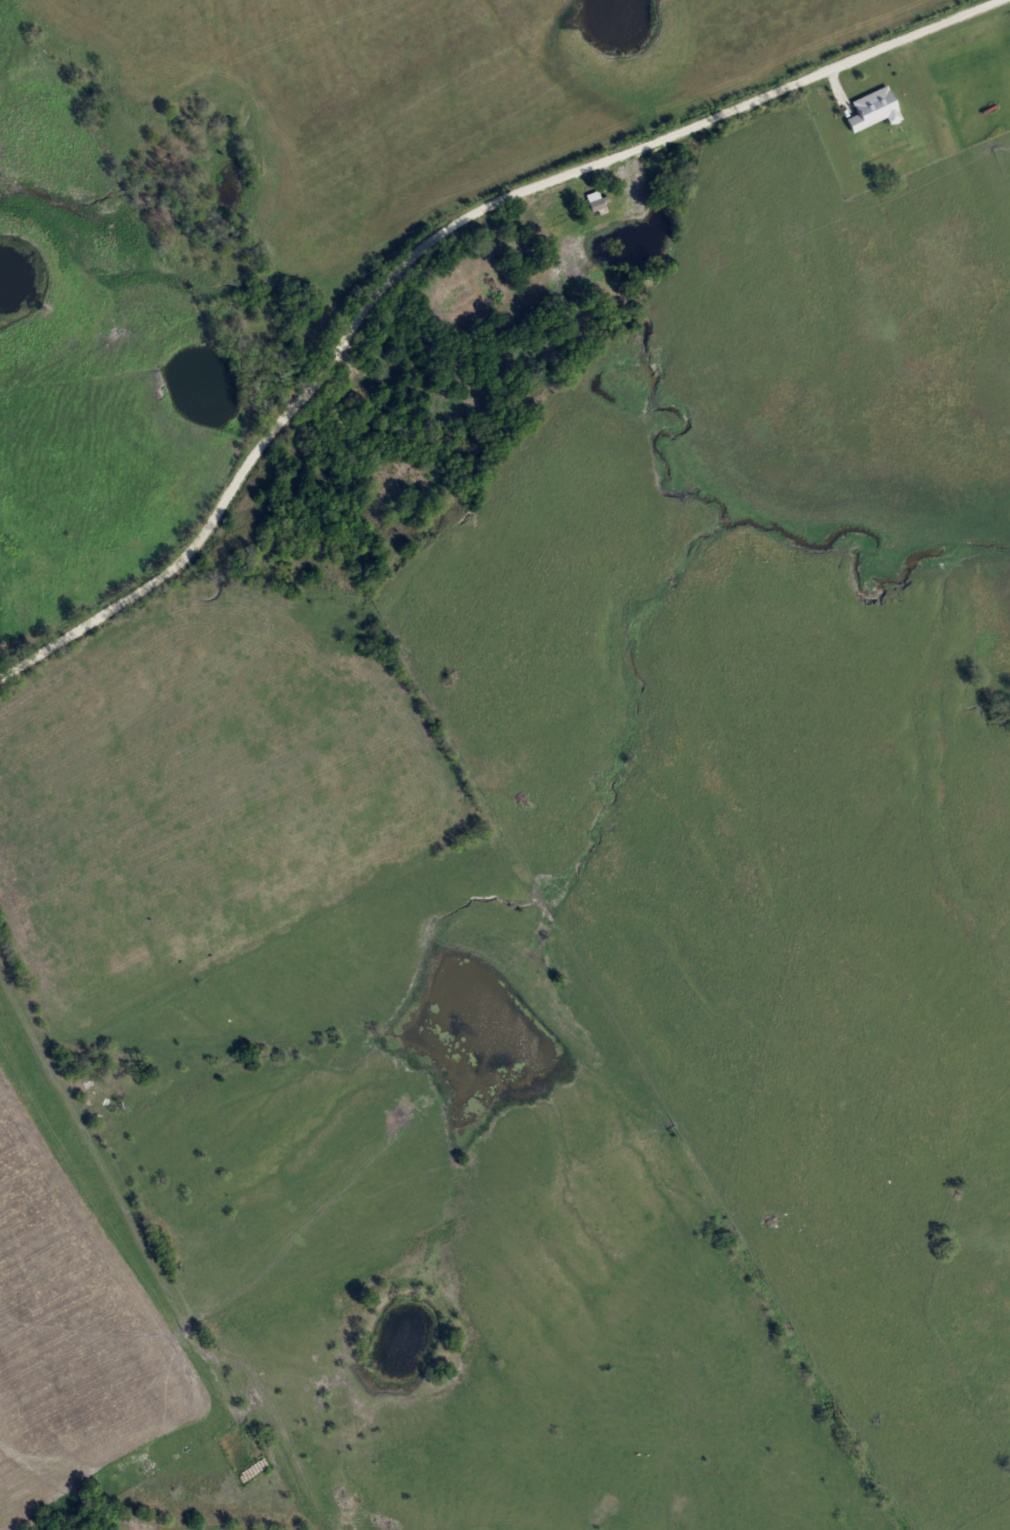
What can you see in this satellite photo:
building: (871, 107)
building: (591, 200)
road: (428, 243)

